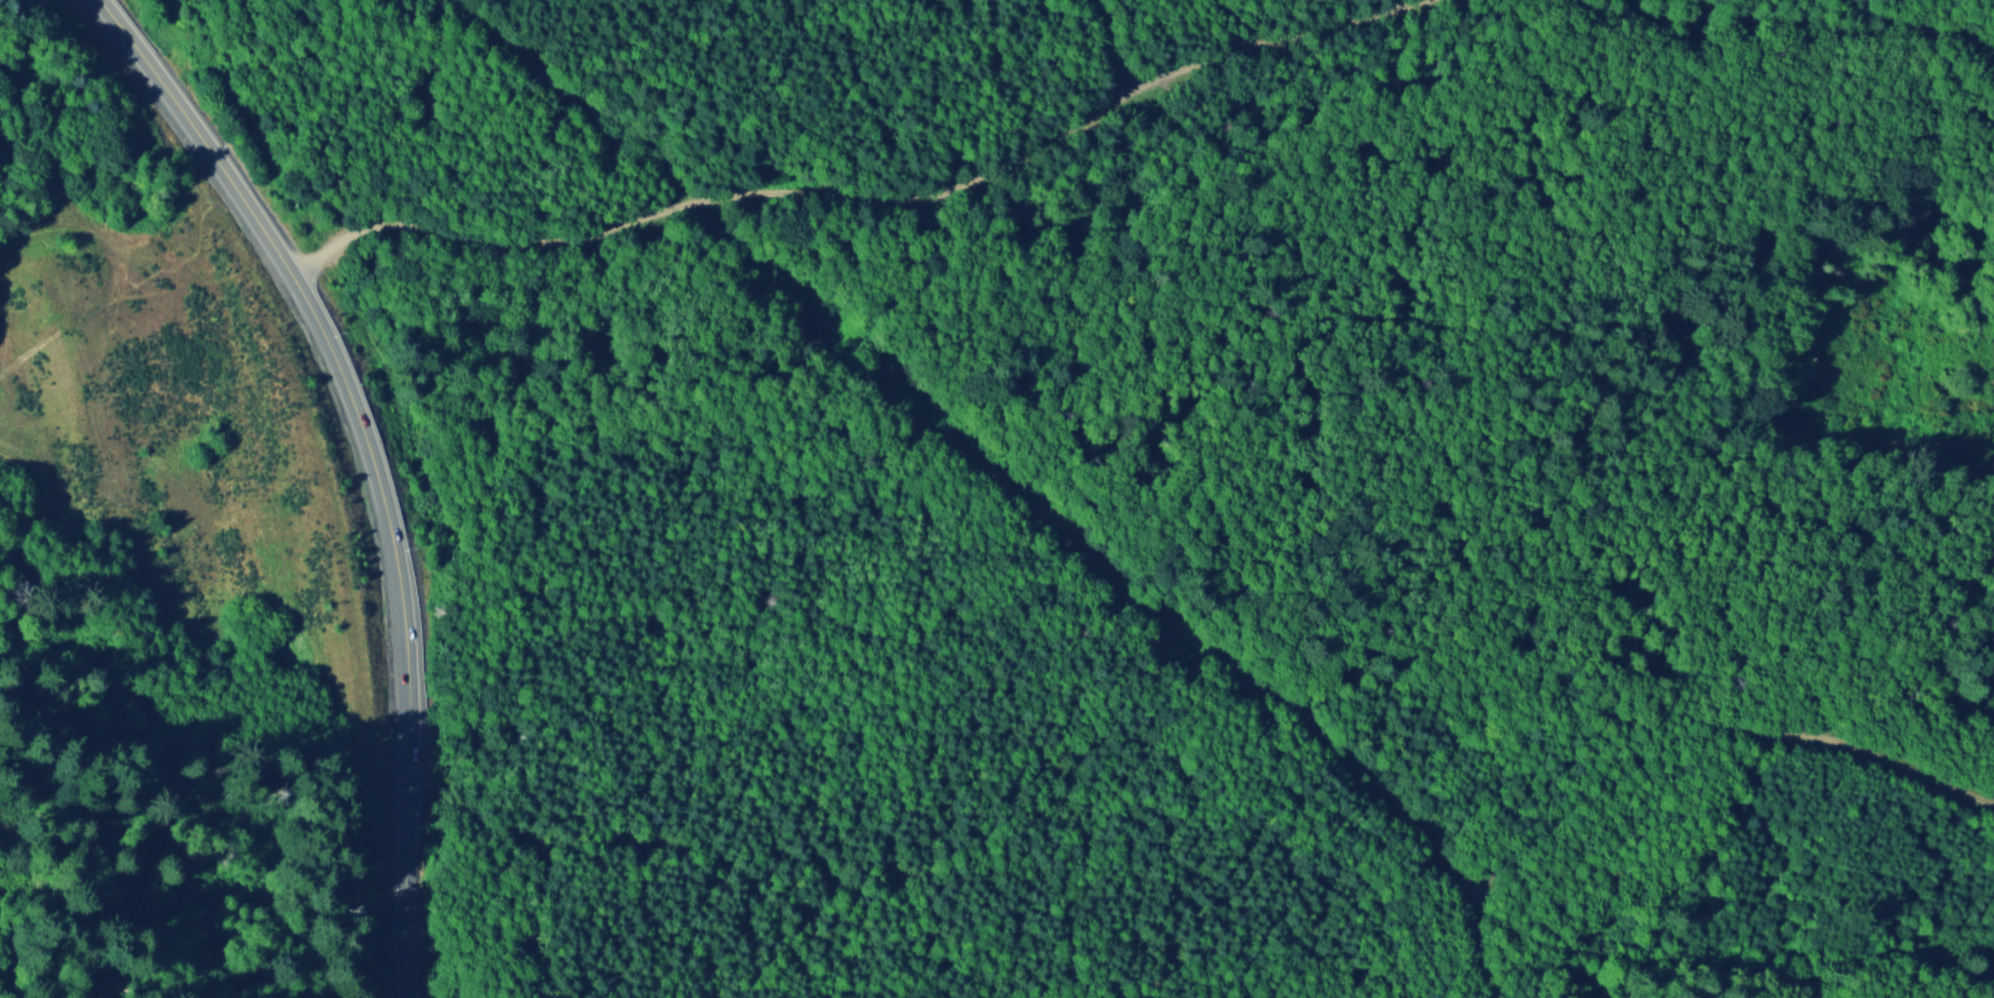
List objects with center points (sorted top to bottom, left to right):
road: (1792, 26)
road: (1108, 50)
road: (875, 193)
road: (89, 226)
road: (376, 462)
road: (1666, 743)

